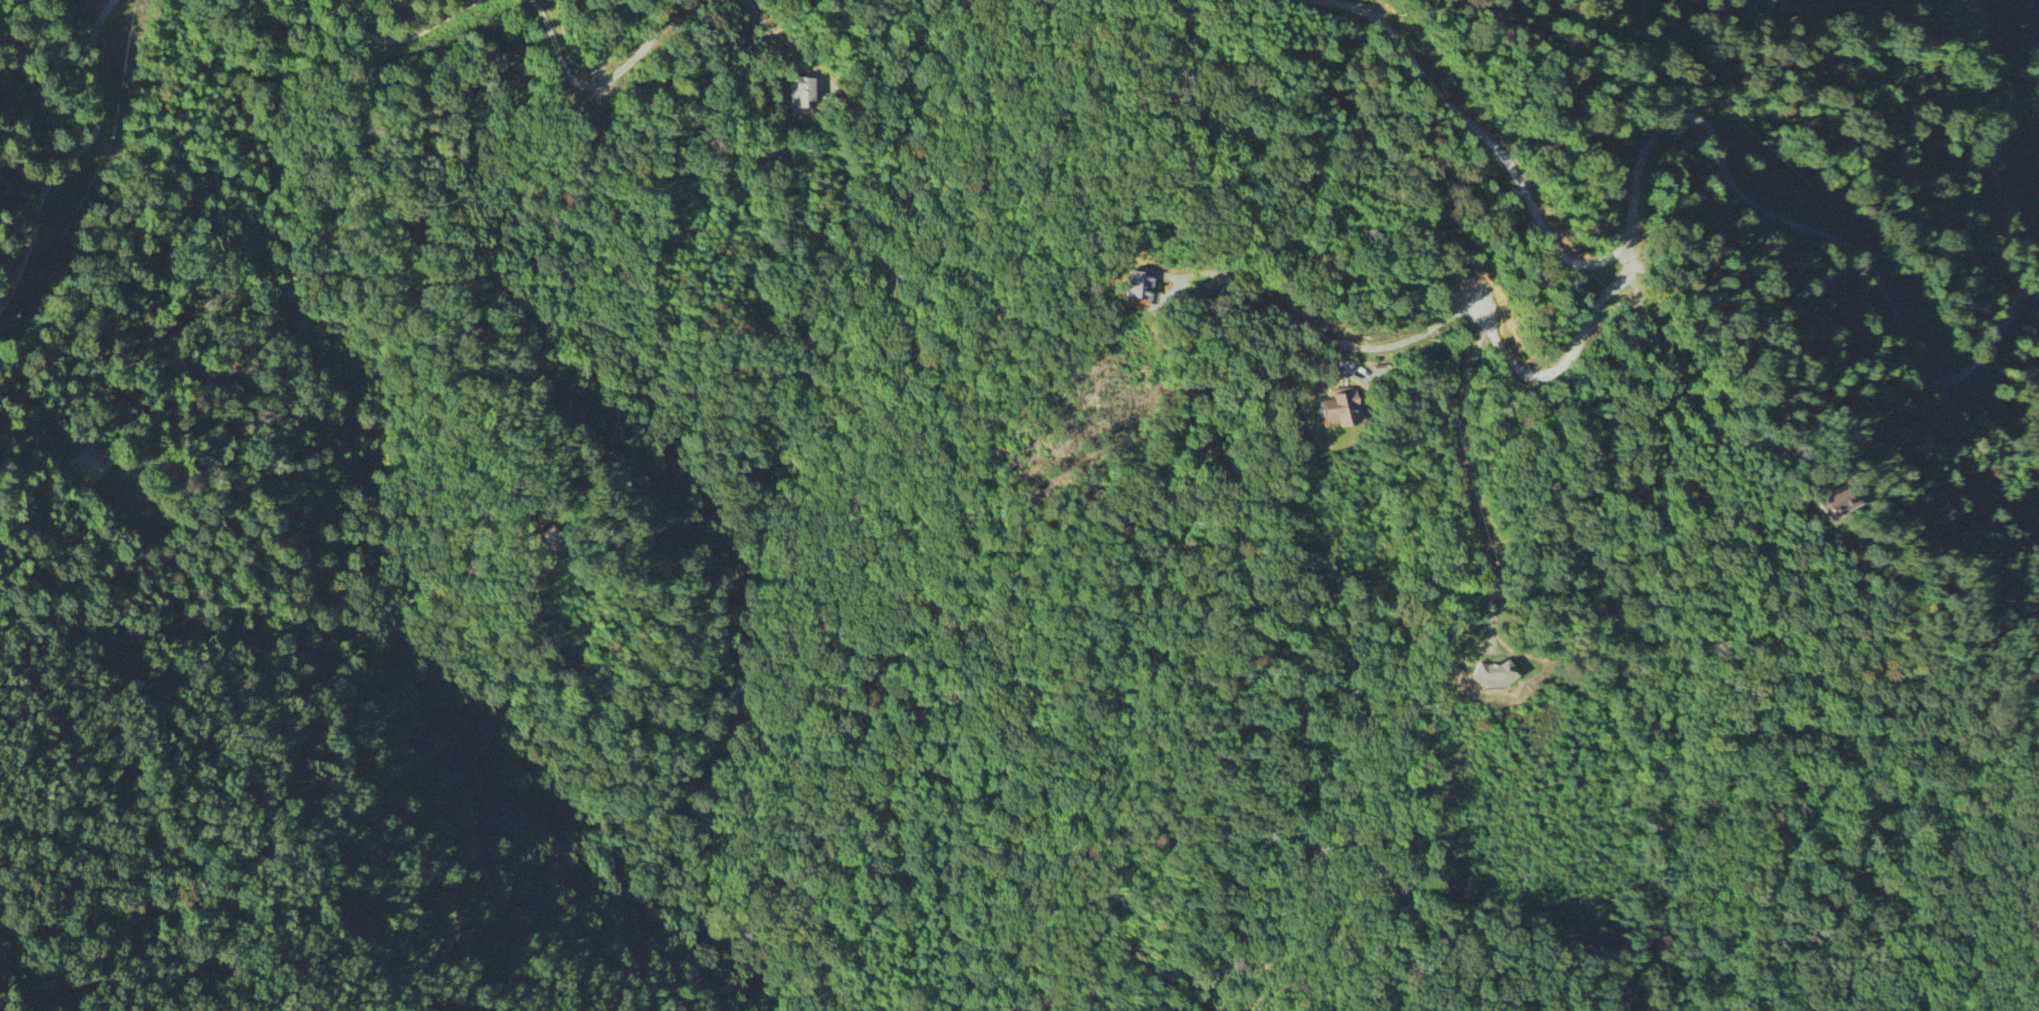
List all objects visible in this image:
road: (681, 1)
road: (768, 32)
road: (404, 39)
road: (594, 81)
building: (804, 93)
road: (1486, 142)
road: (72, 155)
road: (1819, 236)
building: (1141, 287)
road: (1445, 319)
building: (1341, 409)
road: (1767, 444)
building: (83, 463)
road: (1461, 484)
building: (1839, 504)
building: (548, 538)
building: (1496, 677)

